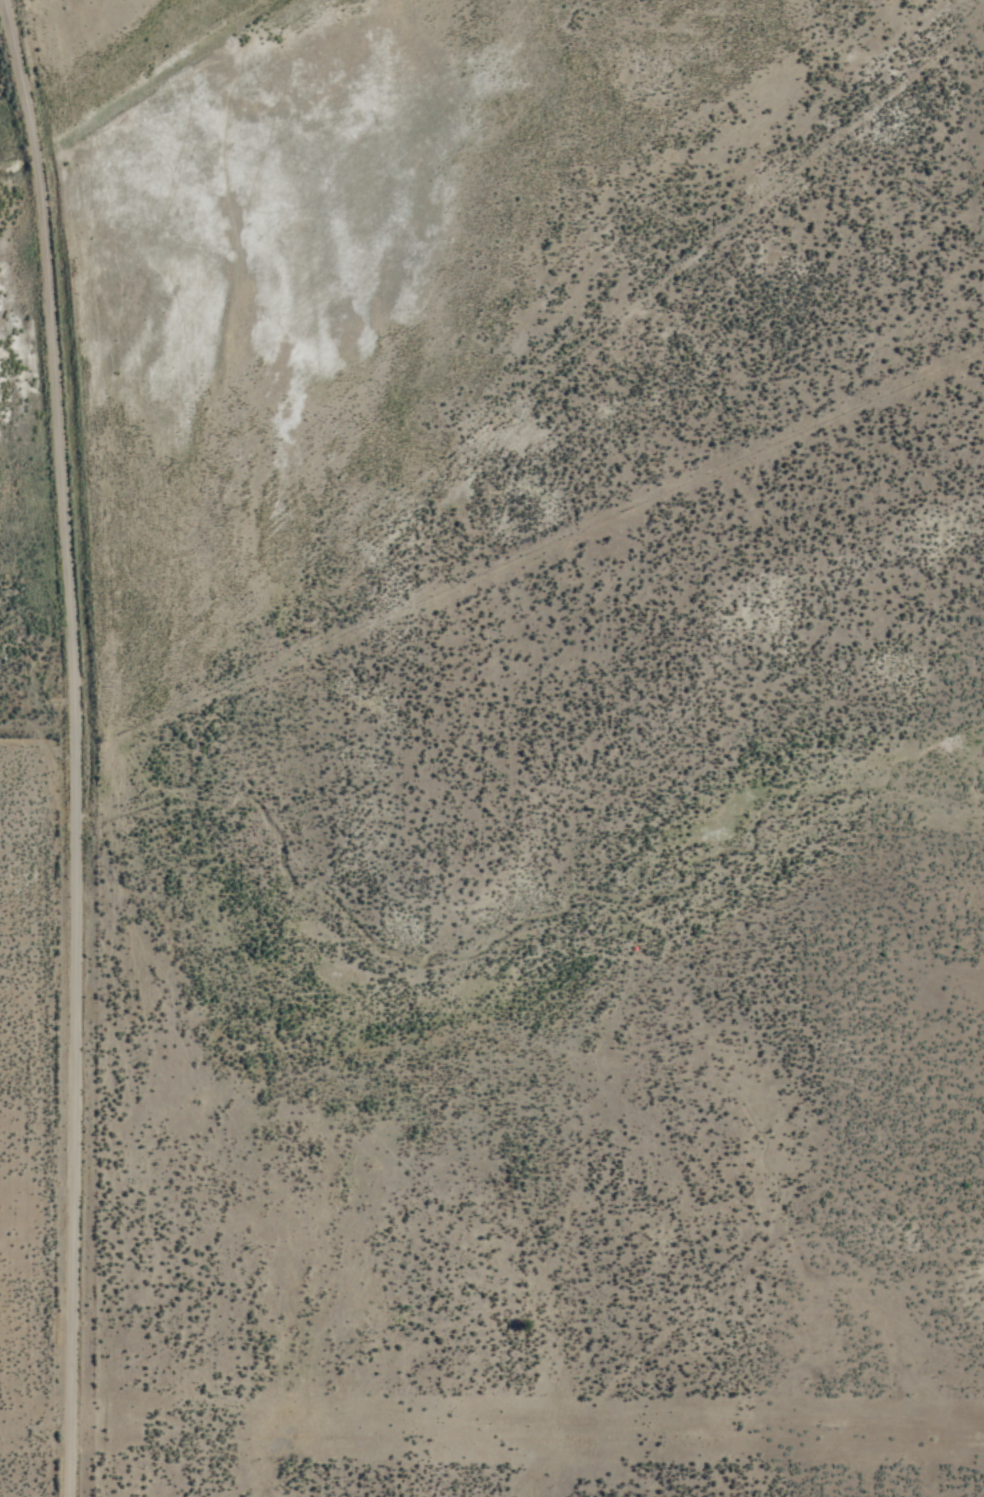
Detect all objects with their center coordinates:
road: (77, 746)

